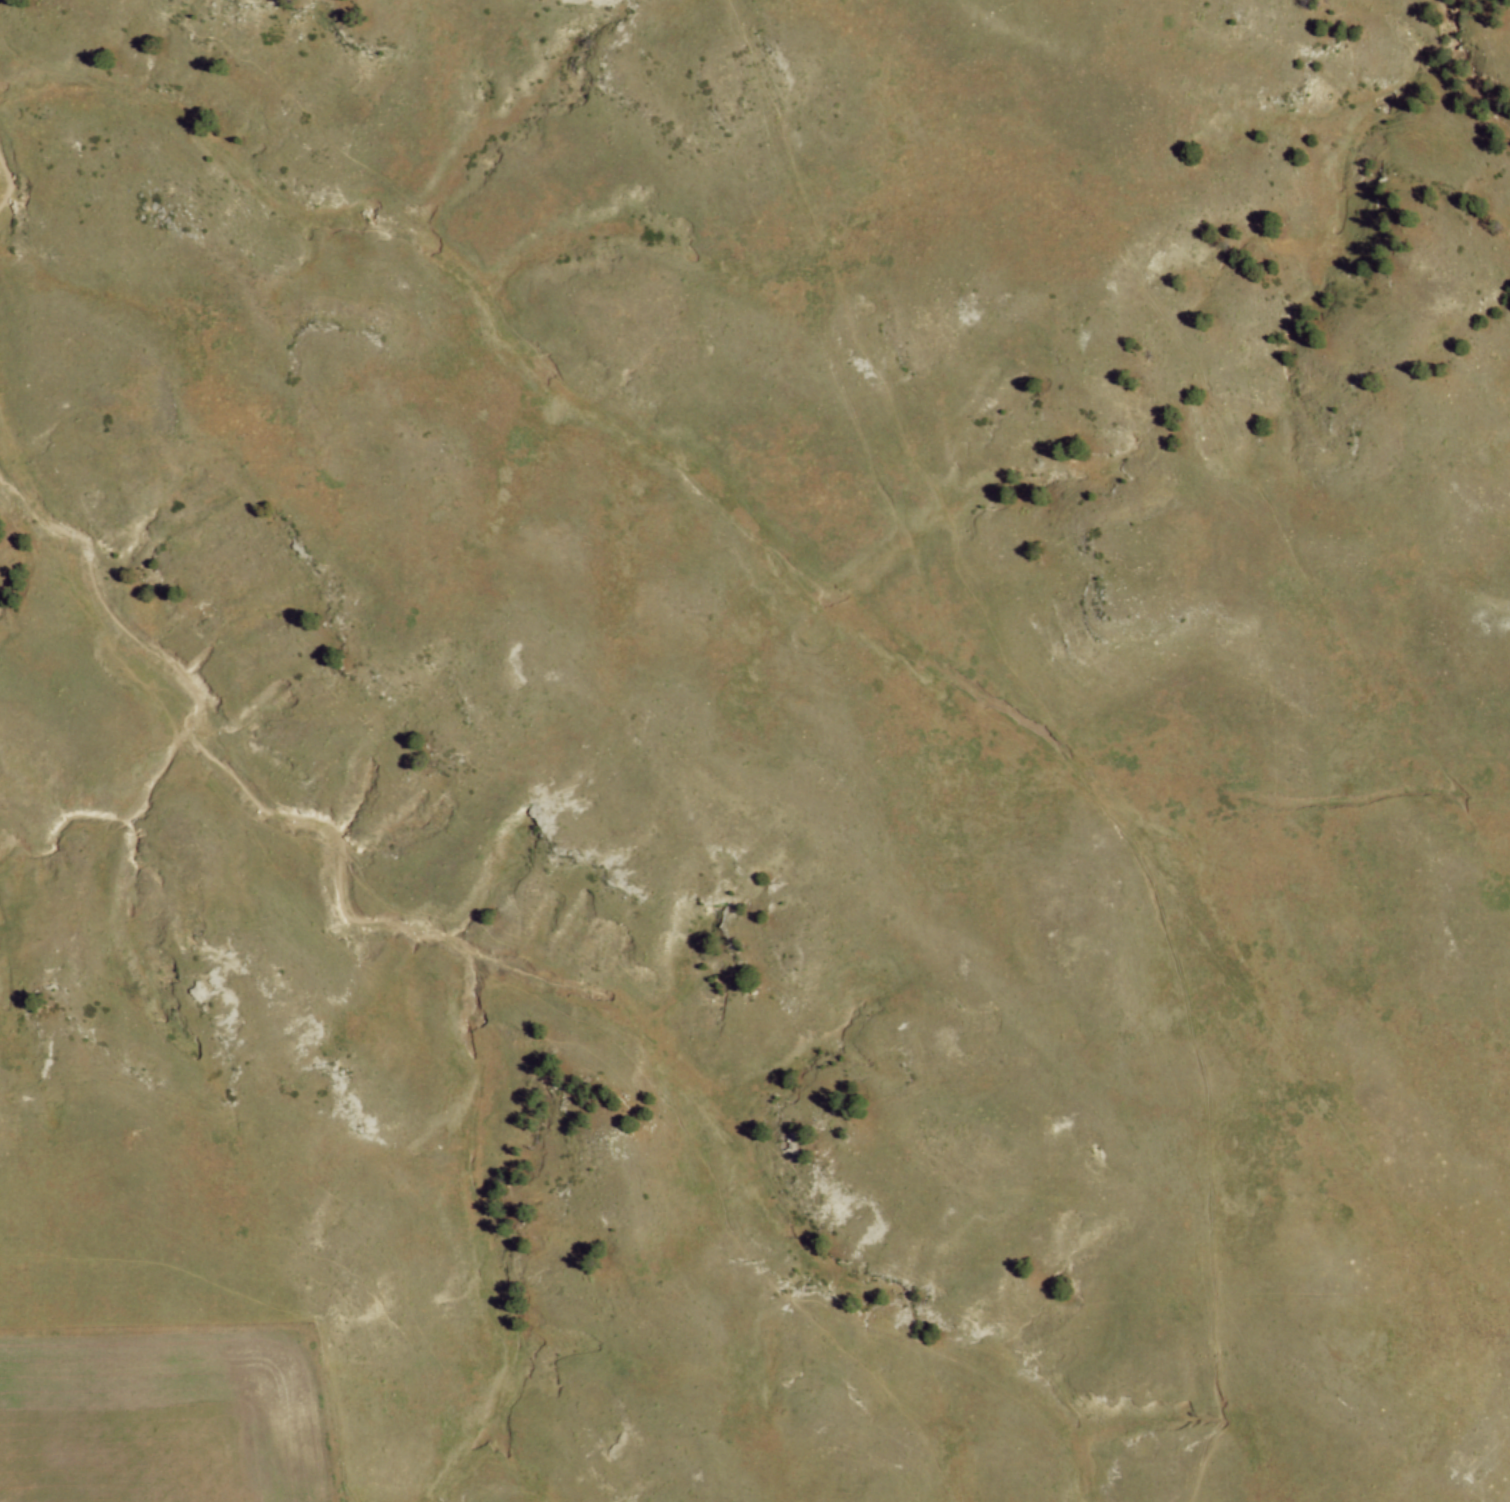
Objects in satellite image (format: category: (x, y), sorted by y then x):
crop: (160, 1418)

